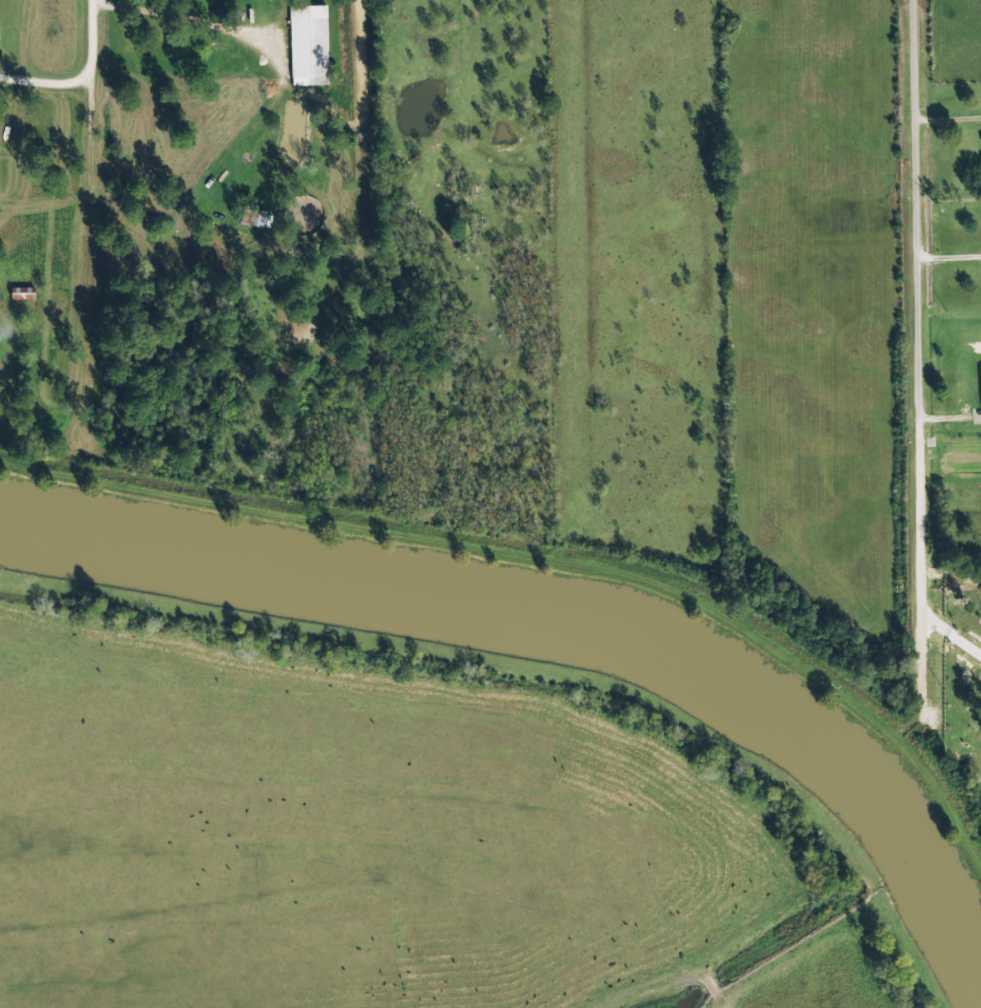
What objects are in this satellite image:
building: (308, 45)
road: (87, 142)
building: (252, 217)
road: (923, 284)
building: (980, 377)

